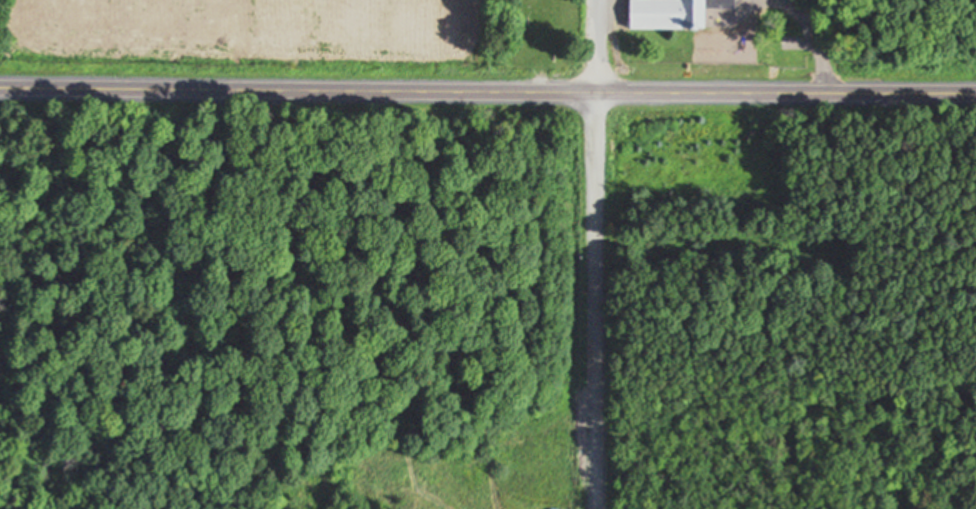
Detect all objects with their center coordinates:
building: (665, 13)
park: (532, 46)
road: (593, 47)
road: (487, 93)
road: (594, 301)

